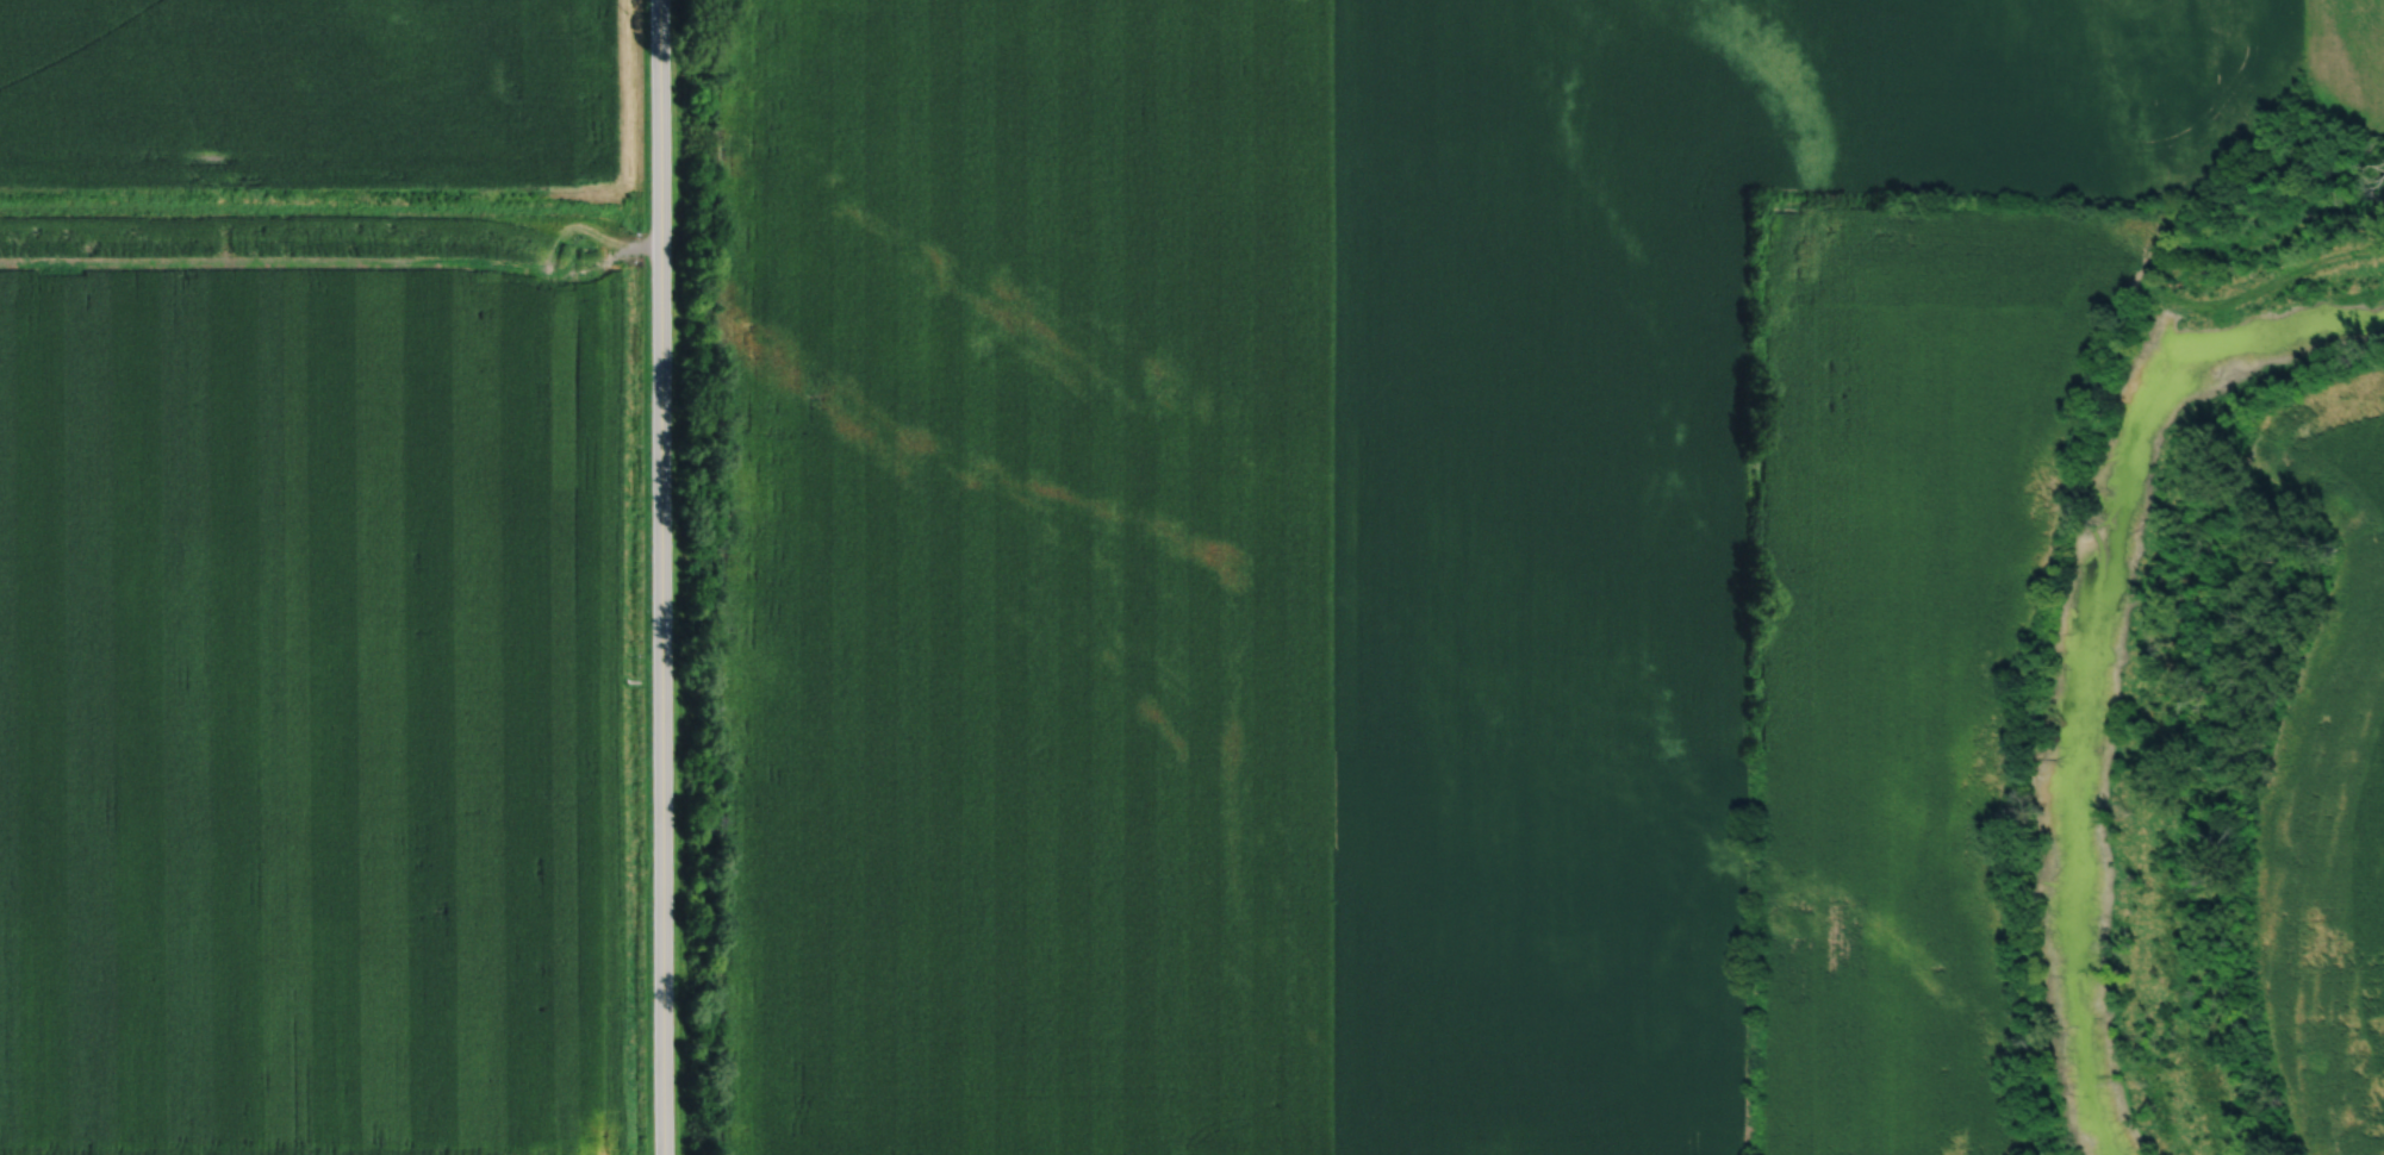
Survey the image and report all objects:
road: (662, 577)

